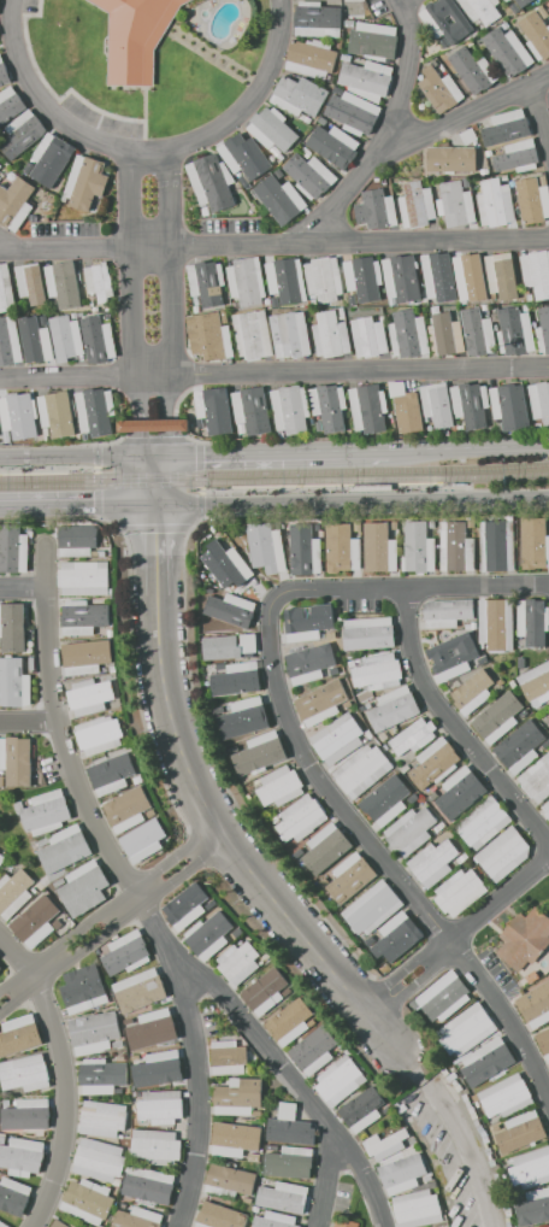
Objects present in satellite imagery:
building: (506, 1)
building: (523, 2)
building: (548, 6)
building: (548, 8)
building: (480, 10)
building: (542, 12)
building: (443, 18)
building: (317, 19)
building: (504, 25)
building: (536, 35)
building: (135, 36)
building: (373, 42)
building: (507, 53)
building: (311, 58)
building: (346, 58)
building: (442, 69)
building: (473, 69)
building: (4, 74)
building: (330, 78)
building: (366, 80)
building: (441, 89)
building: (548, 95)
building: (299, 96)
building: (10, 104)
building: (353, 112)
road: (460, 116)
road: (539, 116)
building: (323, 122)
building: (506, 128)
building: (271, 129)
building: (23, 134)
road: (384, 134)
building: (470, 136)
building: (333, 146)
road: (150, 151)
building: (274, 151)
building: (305, 152)
building: (489, 153)
building: (518, 155)
building: (244, 157)
building: (281, 157)
building: (49, 159)
building: (451, 159)
building: (0, 165)
building: (484, 171)
building: (279, 174)
building: (309, 175)
building: (504, 176)
building: (0, 177)
building: (211, 181)
building: (243, 181)
building: (543, 181)
building: (84, 182)
building: (466, 183)
building: (279, 199)
building: (532, 200)
building: (14, 202)
building: (495, 202)
building: (417, 205)
building: (455, 205)
building: (376, 209)
building: (205, 211)
parking lot: (229, 225)
parking lot: (63, 229)
road: (274, 240)
road: (167, 260)
road: (130, 262)
building: (536, 272)
building: (438, 276)
building: (471, 276)
building: (501, 276)
building: (324, 278)
building: (364, 278)
building: (401, 278)
building: (247, 280)
building: (287, 280)
building: (100, 282)
building: (206, 282)
building: (31, 283)
building: (64, 284)
building: (5, 288)
building: (352, 299)
building: (391, 300)
building: (53, 301)
building: (274, 301)
building: (464, 301)
building: (91, 303)
building: (235, 305)
building: (485, 307)
building: (95, 309)
building: (196, 309)
building: (454, 309)
building: (525, 309)
building: (341, 313)
building: (73, 315)
building: (107, 315)
building: (224, 317)
building: (495, 317)
building: (382, 318)
building: (543, 329)
building: (516, 331)
building: (478, 333)
building: (252, 334)
building: (290, 334)
building: (408, 334)
building: (444, 334)
building: (330, 335)
building: (209, 336)
building: (368, 336)
building: (66, 337)
building: (95, 339)
building: (10, 340)
building: (36, 341)
road: (274, 371)
building: (539, 401)
building: (402, 404)
building: (436, 404)
building: (471, 404)
building: (329, 406)
building: (509, 406)
building: (212, 407)
building: (252, 409)
building: (290, 409)
building: (367, 409)
building: (17, 411)
building: (95, 411)
building: (57, 413)
road: (166, 416)
road: (137, 417)
road: (177, 423)
building: (154, 425)
building: (318, 427)
road: (154, 441)
road: (82, 445)
road: (472, 450)
road: (273, 452)
traffic signals: (154, 454)
road: (77, 456)
railway: (67, 468)
road: (82, 468)
railway: (274, 474)
road: (155, 479)
road: (98, 481)
road: (200, 481)
railway: (274, 482)
building: (370, 488)
road: (216, 491)
railway: (231, 494)
road: (352, 500)
traffic signals: (155, 504)
road: (77, 505)
road: (373, 511)
road: (48, 516)
building: (394, 522)
building: (30, 527)
road: (155, 528)
building: (318, 528)
building: (432, 528)
building: (30, 534)
building: (77, 540)
building: (535, 544)
building: (497, 546)
building: (418, 547)
building: (455, 547)
building: (13, 548)
building: (266, 548)
building: (341, 548)
building: (303, 550)
building: (380, 550)
building: (95, 553)
building: (225, 563)
building: (83, 577)
road: (22, 588)
building: (209, 589)
building: (230, 610)
building: (447, 611)
building: (83, 617)
building: (308, 621)
building: (532, 622)
building: (496, 623)
building: (13, 626)
building: (471, 626)
building: (370, 633)
building: (110, 634)
building: (228, 646)
building: (85, 656)
building: (249, 656)
building: (454, 657)
building: (352, 663)
building: (521, 663)
building: (30, 664)
building: (308, 664)
building: (220, 667)
building: (112, 669)
building: (335, 671)
building: (378, 671)
road: (134, 676)
building: (237, 679)
building: (14, 682)
building: (535, 685)
building: (472, 693)
building: (88, 697)
building: (320, 703)
building: (370, 705)
building: (362, 708)
building: (392, 709)
building: (218, 710)
building: (524, 714)
building: (243, 717)
building: (497, 717)
road: (29, 721)
building: (548, 723)
road: (454, 726)
building: (99, 734)
building: (368, 734)
building: (413, 736)
building: (337, 739)
building: (545, 745)
building: (520, 746)
road: (300, 747)
road: (70, 752)
building: (259, 755)
building: (16, 759)
building: (435, 763)
building: (406, 769)
building: (362, 770)
building: (112, 773)
building: (537, 779)
building: (1, 780)
building: (137, 780)
road: (220, 780)
building: (279, 786)
building: (459, 792)
building: (432, 796)
building: (413, 798)
building: (384, 800)
building: (19, 805)
road: (201, 806)
building: (545, 808)
building: (126, 809)
building: (46, 811)
building: (150, 812)
building: (301, 818)
building: (274, 820)
building: (482, 822)
building: (438, 827)
building: (451, 827)
building: (411, 830)
building: (444, 832)
building: (43, 841)
building: (146, 843)
building: (325, 847)
building: (64, 849)
building: (299, 852)
building: (502, 855)
building: (1, 858)
building: (462, 858)
building: (433, 861)
building: (349, 877)
building: (59, 882)
building: (84, 888)
building: (34, 891)
building: (459, 892)
building: (13, 893)
building: (213, 900)
building: (209, 906)
building: (184, 908)
building: (372, 908)
road: (106, 909)
building: (35, 921)
building: (57, 924)
road: (112, 924)
building: (237, 933)
road: (456, 934)
building: (209, 937)
building: (396, 938)
building: (525, 938)
building: (125, 952)
building: (265, 957)
building: (237, 962)
building: (1, 964)
building: (385, 968)
building: (0, 969)
building: (83, 988)
building: (138, 990)
building: (265, 991)
building: (287, 992)
building: (443, 997)
building: (535, 1005)
building: (128, 1021)
building: (290, 1022)
building: (153, 1029)
building: (467, 1031)
building: (94, 1032)
building: (19, 1035)
road: (258, 1037)
building: (543, 1043)
building: (117, 1044)
building: (340, 1047)
building: (313, 1051)
building: (229, 1058)
building: (486, 1063)
road: (409, 1064)
building: (158, 1067)
building: (444, 1072)
building: (24, 1074)
road: (65, 1074)
building: (101, 1076)
building: (451, 1076)
building: (340, 1080)
building: (454, 1082)
road: (199, 1087)
building: (457, 1087)
building: (136, 1096)
building: (238, 1096)
building: (506, 1096)
building: (464, 1097)
building: (474, 1098)
building: (467, 1103)
building: (160, 1106)
building: (362, 1109)
building: (388, 1109)
building: (471, 1109)
building: (28, 1115)
building: (473, 1115)
building: (102, 1119)
building: (477, 1122)
building: (290, 1127)
building: (480, 1128)
building: (496, 1128)
building: (520, 1132)
building: (483, 1133)
building: (2, 1138)
building: (234, 1139)
building: (485, 1140)
building: (384, 1144)
building: (485, 1145)
building: (155, 1146)
road: (467, 1150)
building: (488, 1151)
building: (22, 1157)
building: (490, 1157)
building: (99, 1160)
building: (491, 1162)
building: (289, 1163)
building: (531, 1168)
building: (402, 1173)
road: (366, 1178)
building: (495, 1178)
building: (427, 1179)
building: (116, 1181)
building: (229, 1181)
road: (327, 1181)
building: (148, 1185)
building: (13, 1196)
building: (283, 1197)
building: (87, 1202)
building: (123, 1205)
building: (504, 1207)
building: (533, 1208)
building: (417, 1209)
building: (507, 1213)
building: (220, 1216)
building: (137, 1217)
building: (507, 1219)
building: (274, 1220)
building: (58, 1223)
building: (343, 1223)
building: (507, 1223)
building: (2, 1225)
building: (548, 1226)

